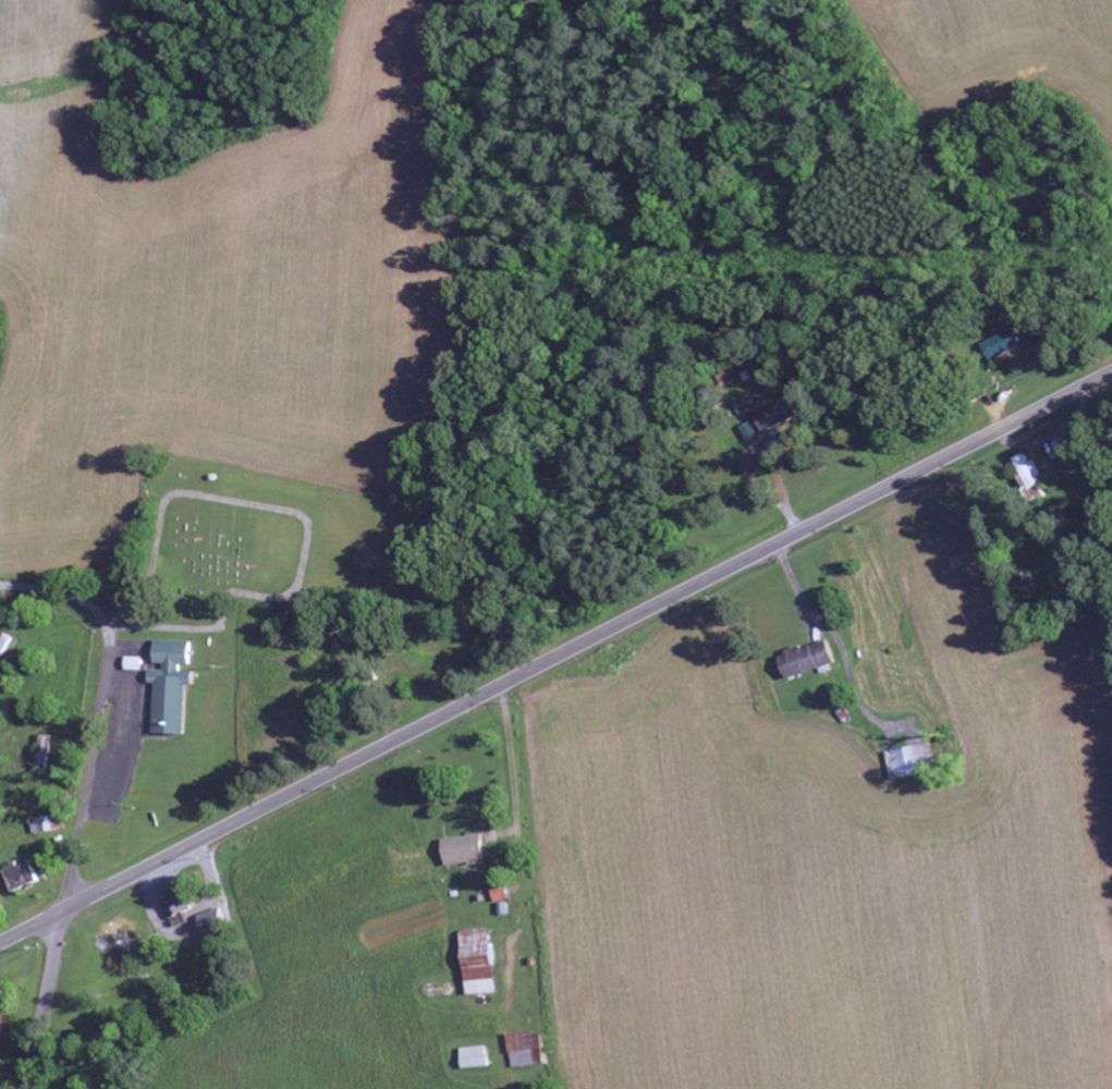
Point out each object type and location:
building: (1003, 344)
building: (777, 415)
building: (748, 431)
building: (777, 443)
building: (1028, 474)
park: (194, 546)
building: (2, 644)
road: (554, 657)
building: (808, 659)
building: (136, 663)
building: (350, 671)
building: (172, 686)
road: (99, 709)
building: (44, 754)
building: (911, 761)
building: (47, 824)
road: (77, 837)
building: (467, 849)
building: (21, 876)
building: (502, 894)
building: (174, 906)
building: (210, 922)
building: (120, 937)
building: (481, 962)
road: (42, 1000)
building: (529, 1050)
building: (475, 1057)

